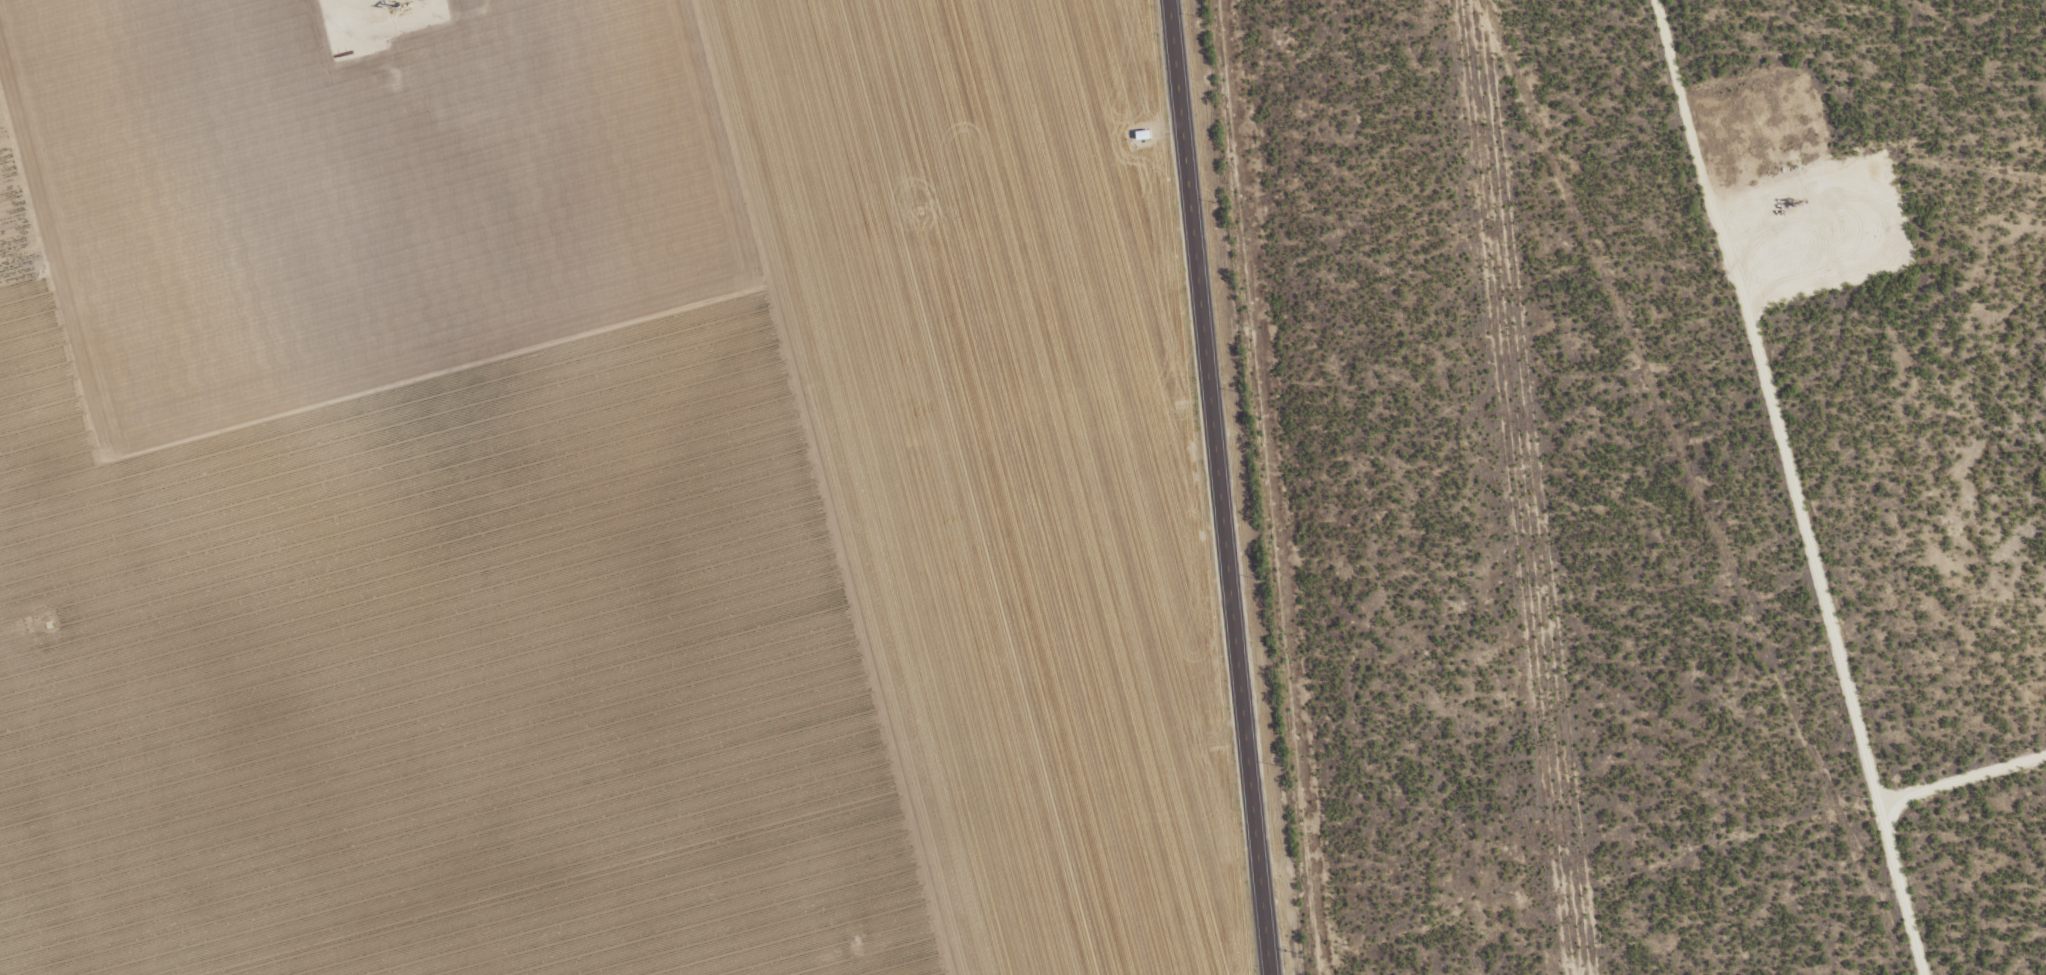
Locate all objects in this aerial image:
road: (1697, 486)
road: (1221, 487)
road: (116, 628)

